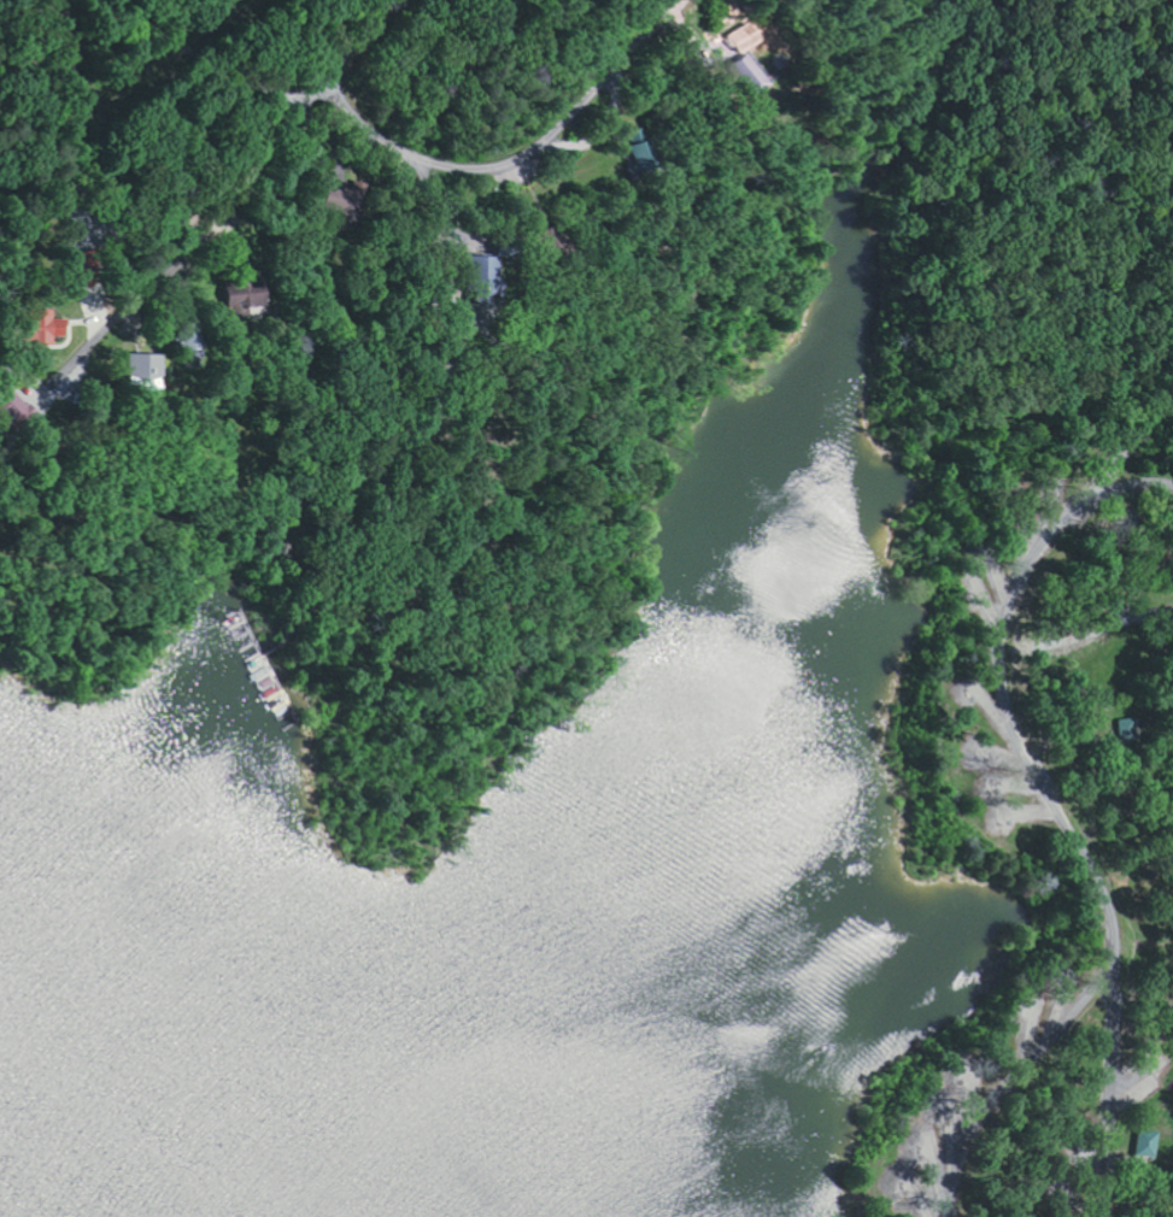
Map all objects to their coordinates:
building: (753, 72)
road: (151, 92)
building: (646, 157)
road: (474, 169)
road: (190, 233)
building: (487, 269)
building: (51, 328)
building: (149, 368)
park: (1026, 584)
road: (1003, 655)
building: (1131, 729)
road: (1108, 1051)
road: (1024, 1068)
building: (1143, 1142)
road: (1108, 1170)

